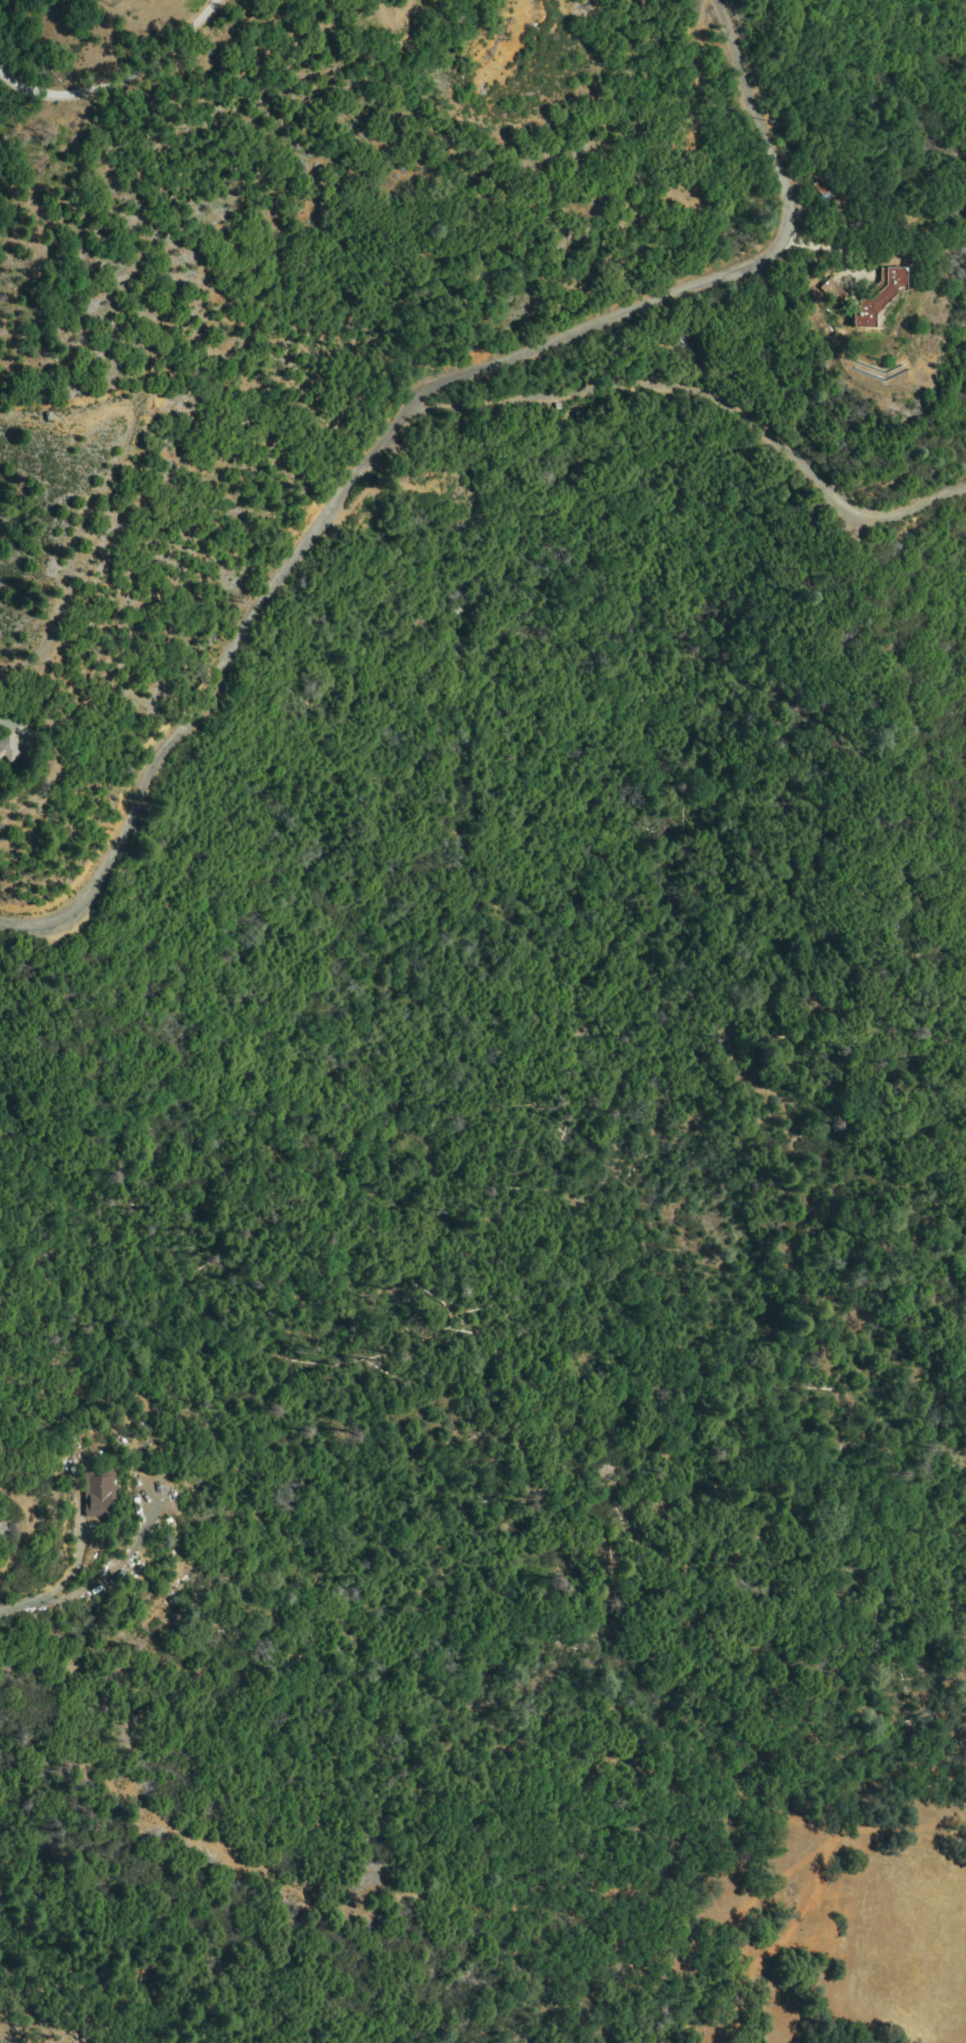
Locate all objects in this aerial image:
building: (833, 292)
building: (820, 298)
building: (879, 299)
road: (697, 401)
road: (395, 408)
building: (8, 748)
building: (99, 1496)
road: (18, 1608)

